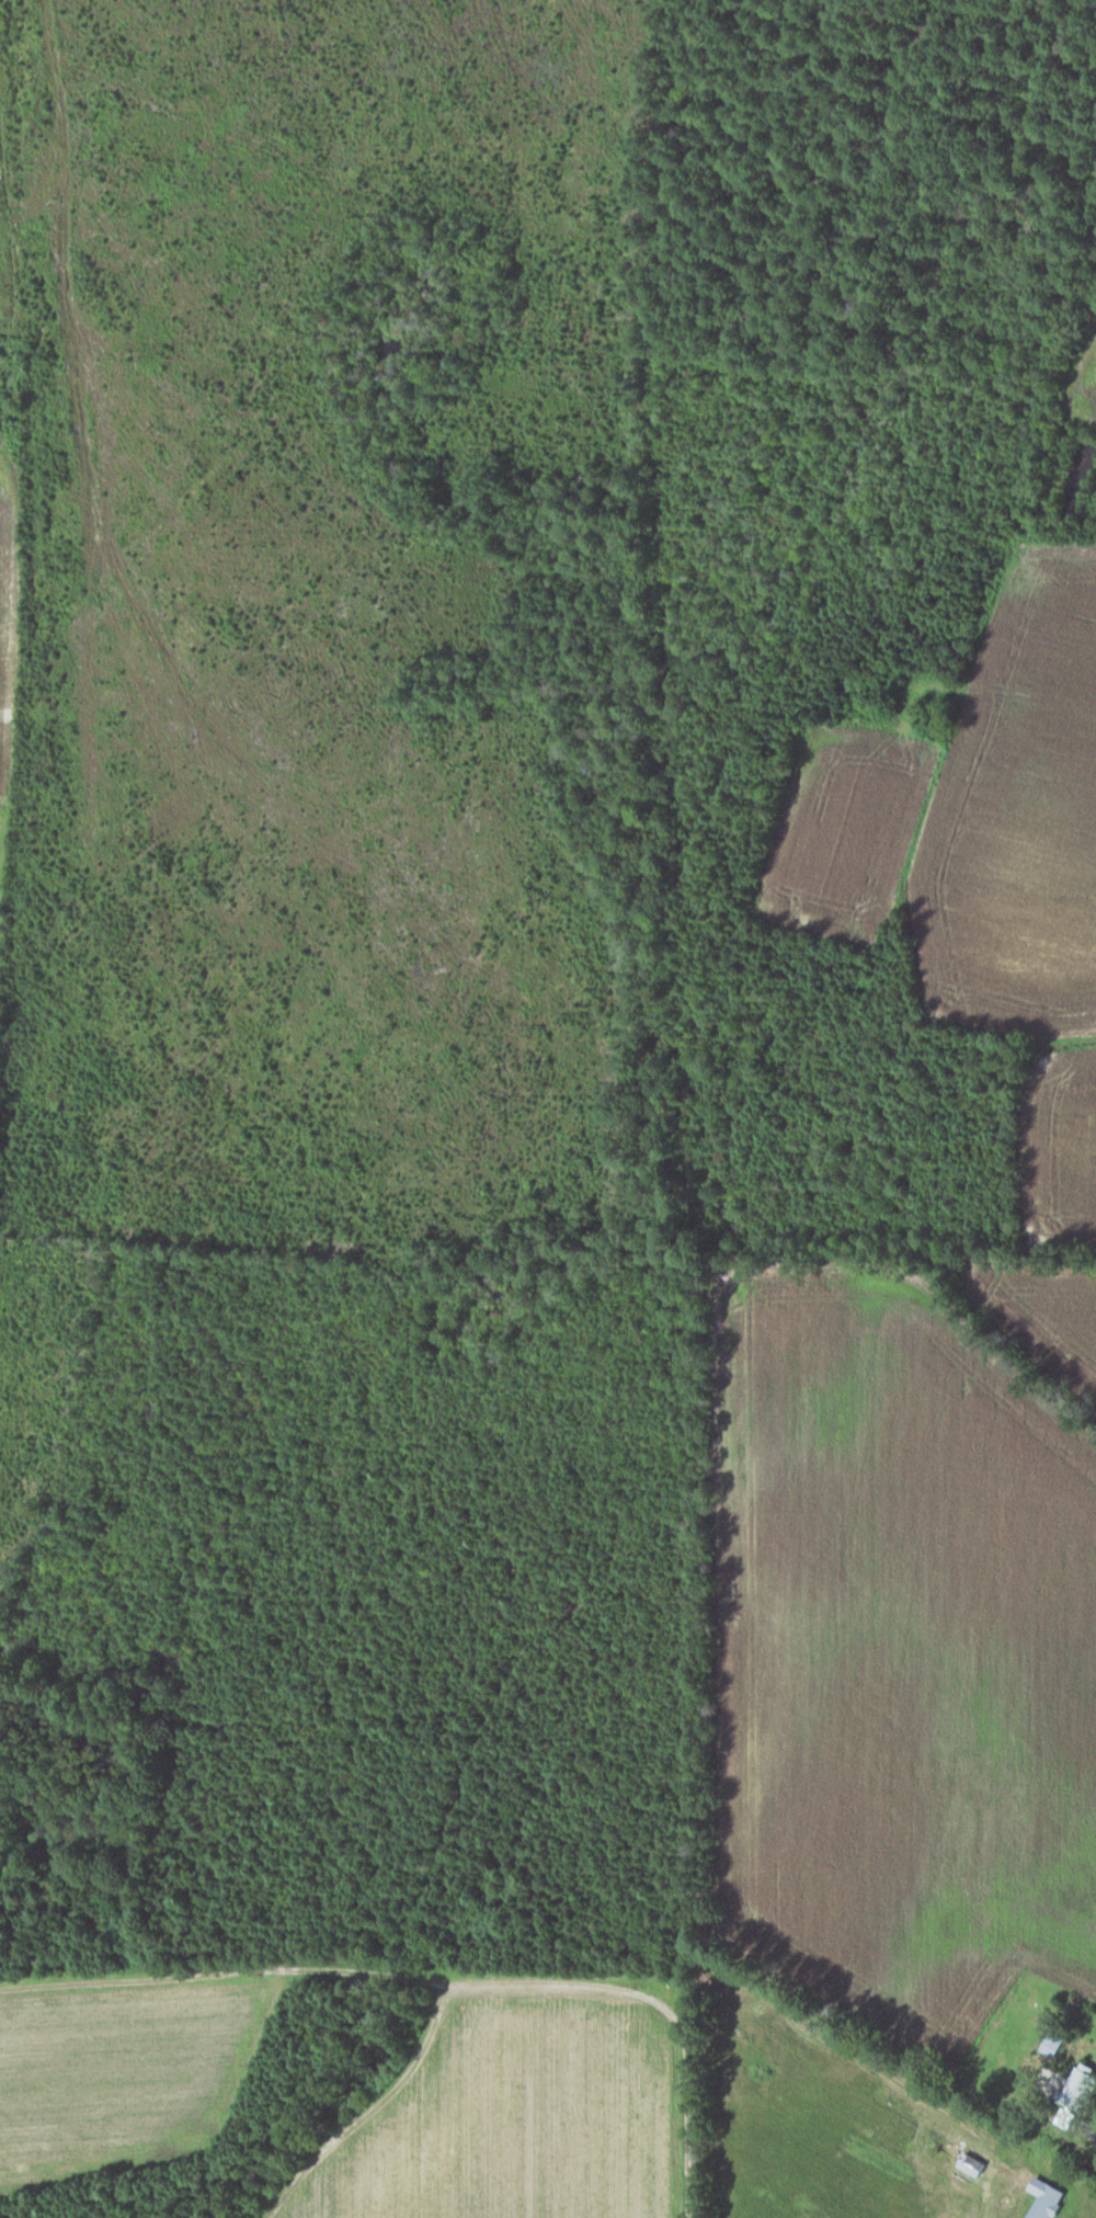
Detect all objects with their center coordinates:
building: (1074, 2086)
road: (1074, 2149)
building: (1040, 2197)

